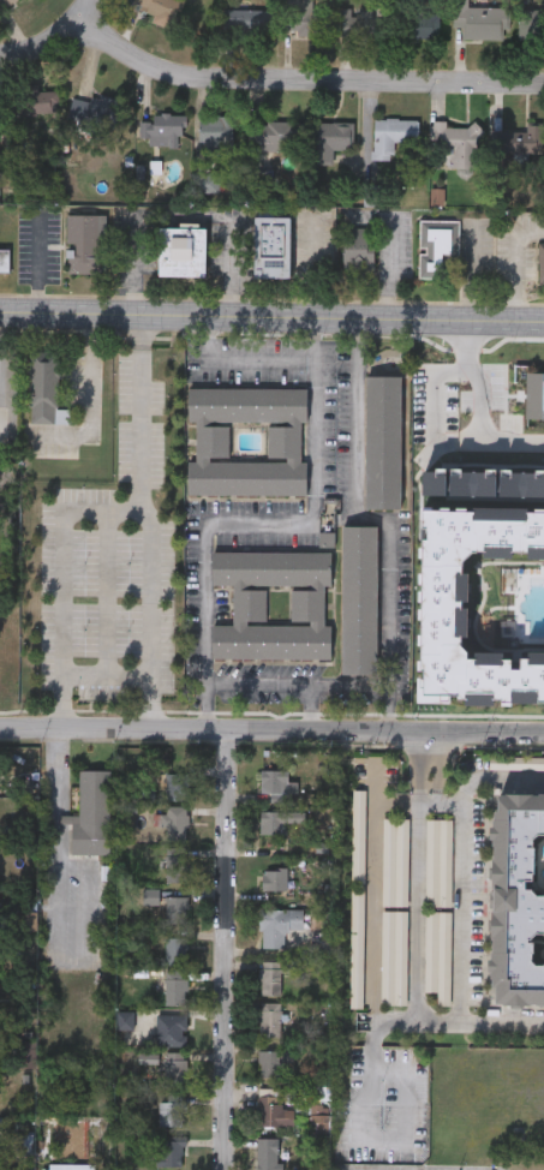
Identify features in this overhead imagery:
building: (5, 4)
building: (159, 8)
road: (84, 17)
building: (247, 18)
building: (309, 18)
building: (482, 20)
building: (365, 22)
building: (532, 23)
building: (424, 24)
road: (40, 42)
road: (307, 80)
building: (37, 101)
building: (95, 111)
building: (165, 130)
building: (217, 135)
building: (277, 135)
building: (394, 135)
building: (333, 138)
building: (530, 142)
building: (459, 143)
building: (85, 244)
building: (270, 247)
building: (358, 249)
building: (435, 249)
building: (180, 252)
building: (4, 259)
road: (136, 261)
road: (518, 264)
building: (540, 265)
road: (271, 311)
road: (233, 364)
road: (91, 394)
building: (488, 396)
building: (534, 396)
parking lot: (438, 404)
road: (143, 408)
road: (482, 408)
building: (211, 441)
building: (379, 441)
road: (394, 509)
road: (288, 529)
road: (59, 572)
building: (483, 589)
road: (113, 590)
building: (358, 599)
building: (247, 605)
road: (156, 632)
road: (283, 687)
road: (156, 700)
road: (322, 709)
road: (271, 728)
road: (443, 757)
road: (416, 758)
road: (496, 778)
building: (274, 780)
building: (177, 786)
road: (441, 796)
road: (431, 804)
road: (453, 804)
building: (91, 814)
building: (270, 822)
building: (177, 826)
building: (357, 837)
building: (177, 861)
building: (437, 864)
building: (274, 877)
road: (373, 897)
building: (516, 899)
building: (175, 909)
building: (394, 913)
road: (465, 914)
building: (277, 924)
road: (418, 925)
road: (59, 926)
building: (354, 948)
road: (220, 949)
building: (175, 950)
building: (436, 956)
building: (270, 977)
building: (174, 990)
building: (269, 1017)
road: (506, 1026)
building: (274, 1061)
building: (174, 1068)
building: (271, 1109)
building: (171, 1112)
road: (357, 1135)
building: (267, 1153)
building: (174, 1154)
building: (71, 1166)

